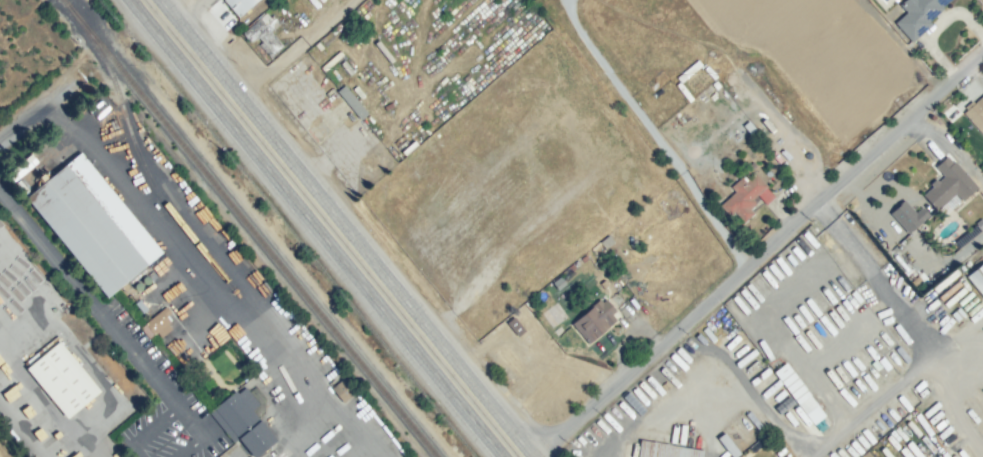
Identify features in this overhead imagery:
building: (328, 1)
building: (238, 5)
road: (190, 11)
building: (917, 16)
building: (263, 34)
building: (318, 46)
building: (383, 50)
crop: (30, 56)
building: (331, 60)
building: (346, 67)
building: (715, 85)
building: (351, 101)
building: (975, 114)
road: (22, 120)
building: (762, 126)
building: (747, 129)
road: (653, 133)
building: (697, 142)
building: (408, 147)
road: (950, 147)
railway: (135, 149)
building: (751, 165)
building: (948, 186)
building: (745, 197)
building: (905, 216)
building: (93, 224)
railway: (236, 228)
railway: (249, 228)
railway: (265, 228)
road: (309, 228)
road: (346, 228)
building: (966, 236)
road: (758, 253)
road: (211, 274)
building: (912, 278)
building: (977, 278)
road: (88, 301)
building: (140, 306)
building: (957, 314)
building: (594, 320)
building: (155, 322)
building: (514, 326)
building: (751, 330)
building: (887, 337)
road: (923, 338)
building: (775, 353)
building: (509, 358)
building: (875, 364)
building: (62, 379)
road: (553, 380)
building: (342, 390)
building: (800, 396)
building: (631, 403)
road: (176, 407)
road: (26, 418)
building: (243, 419)
building: (926, 427)
building: (665, 450)

